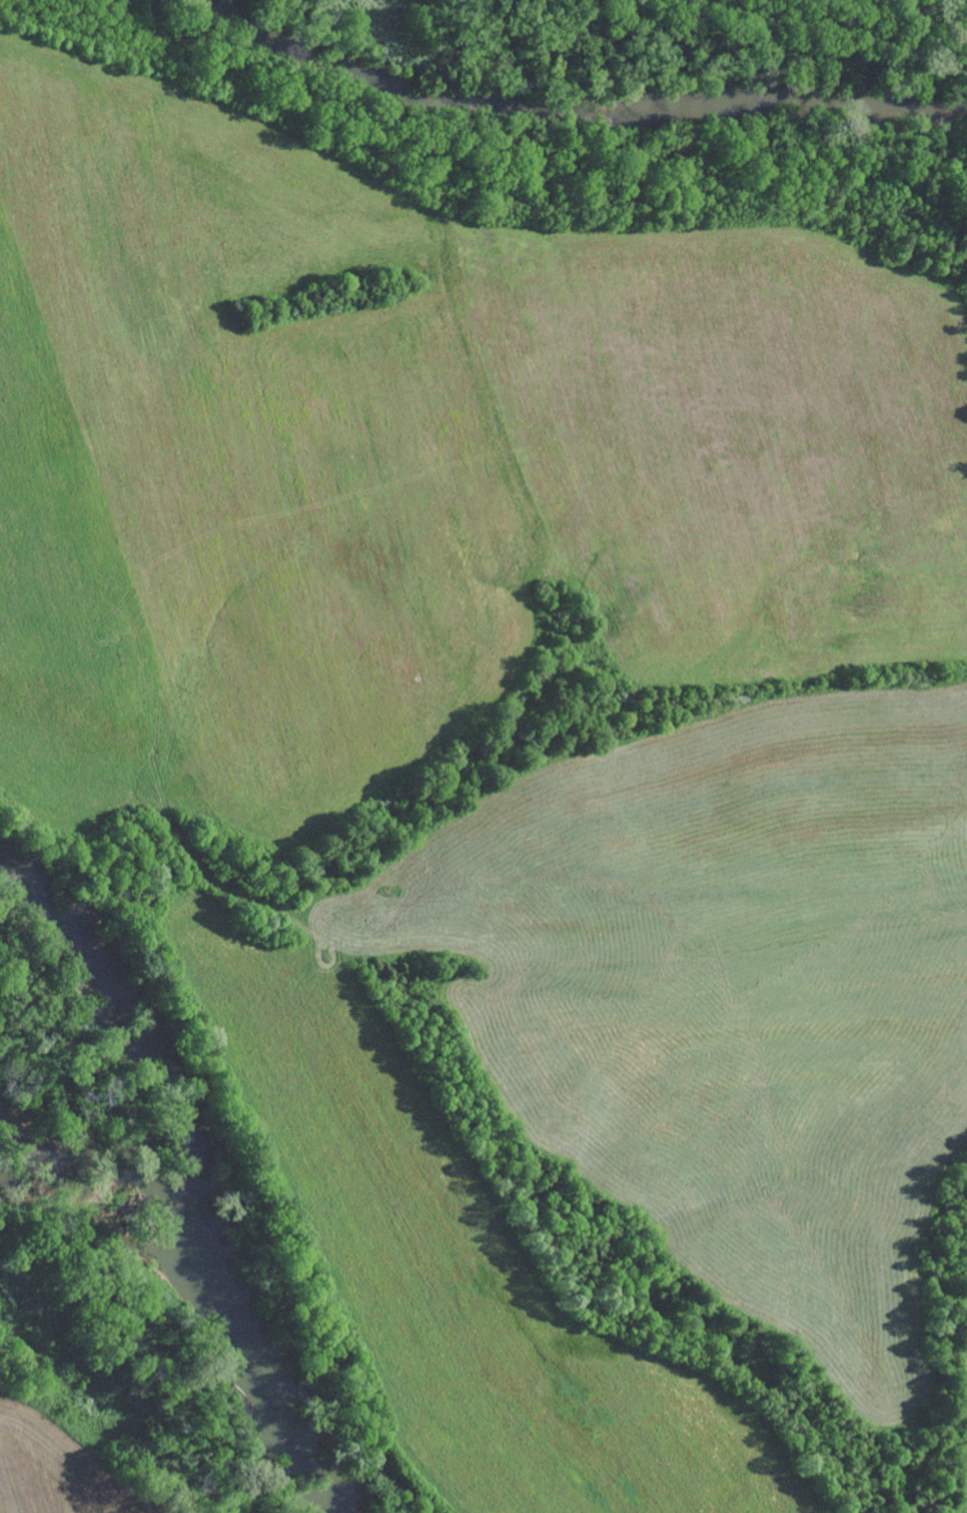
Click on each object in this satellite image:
river: (193, 1177)

